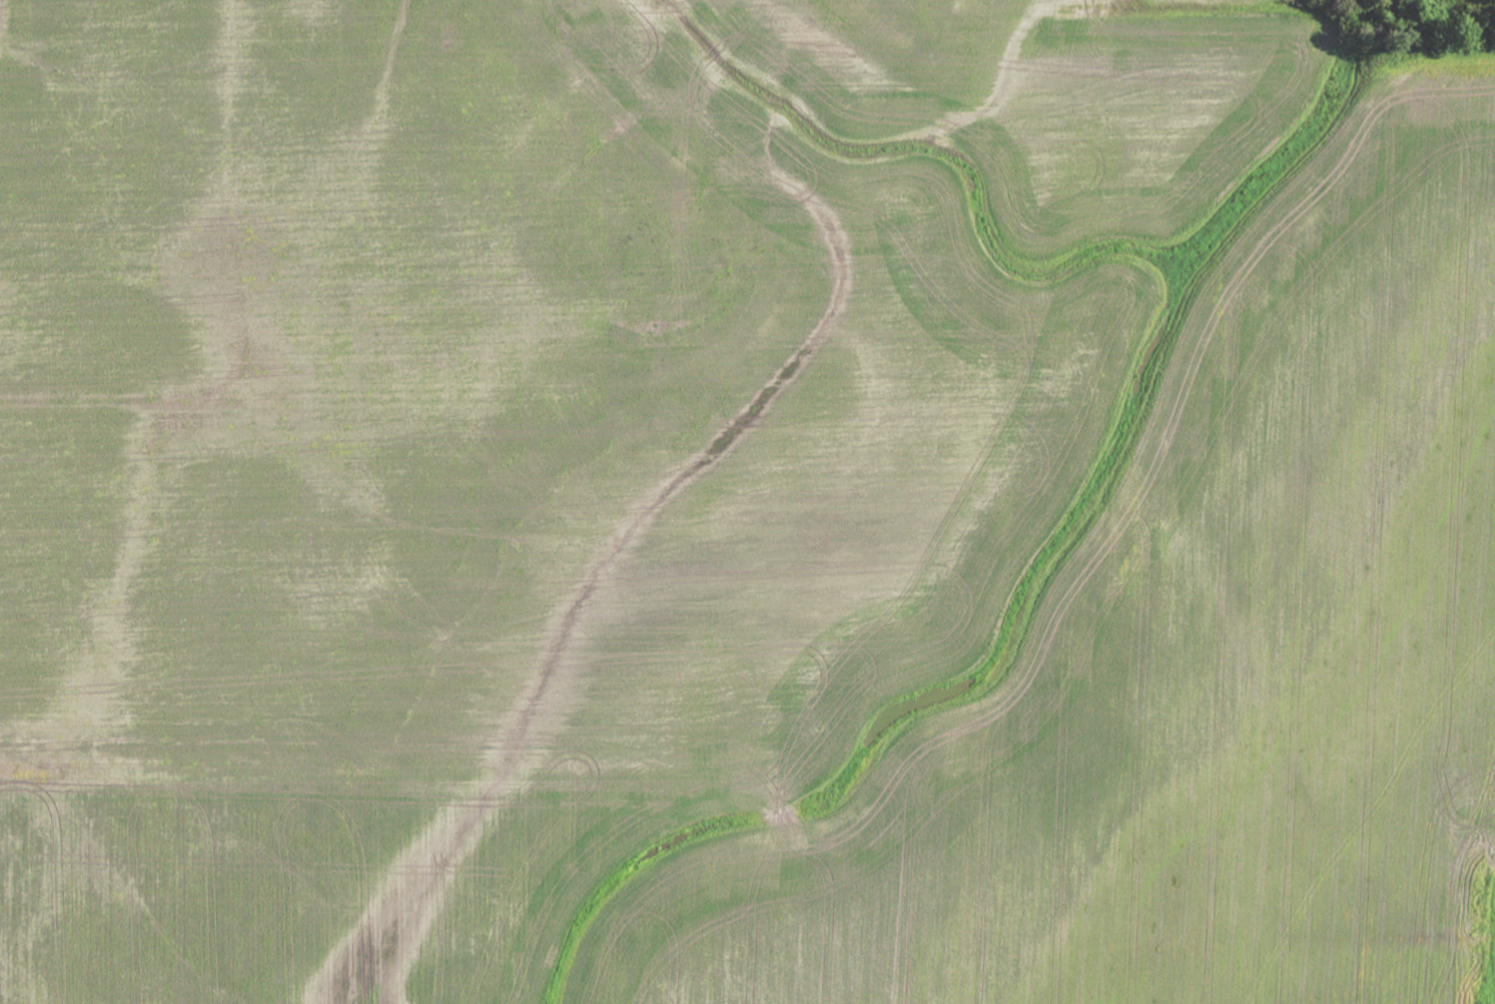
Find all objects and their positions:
road: (899, 751)

